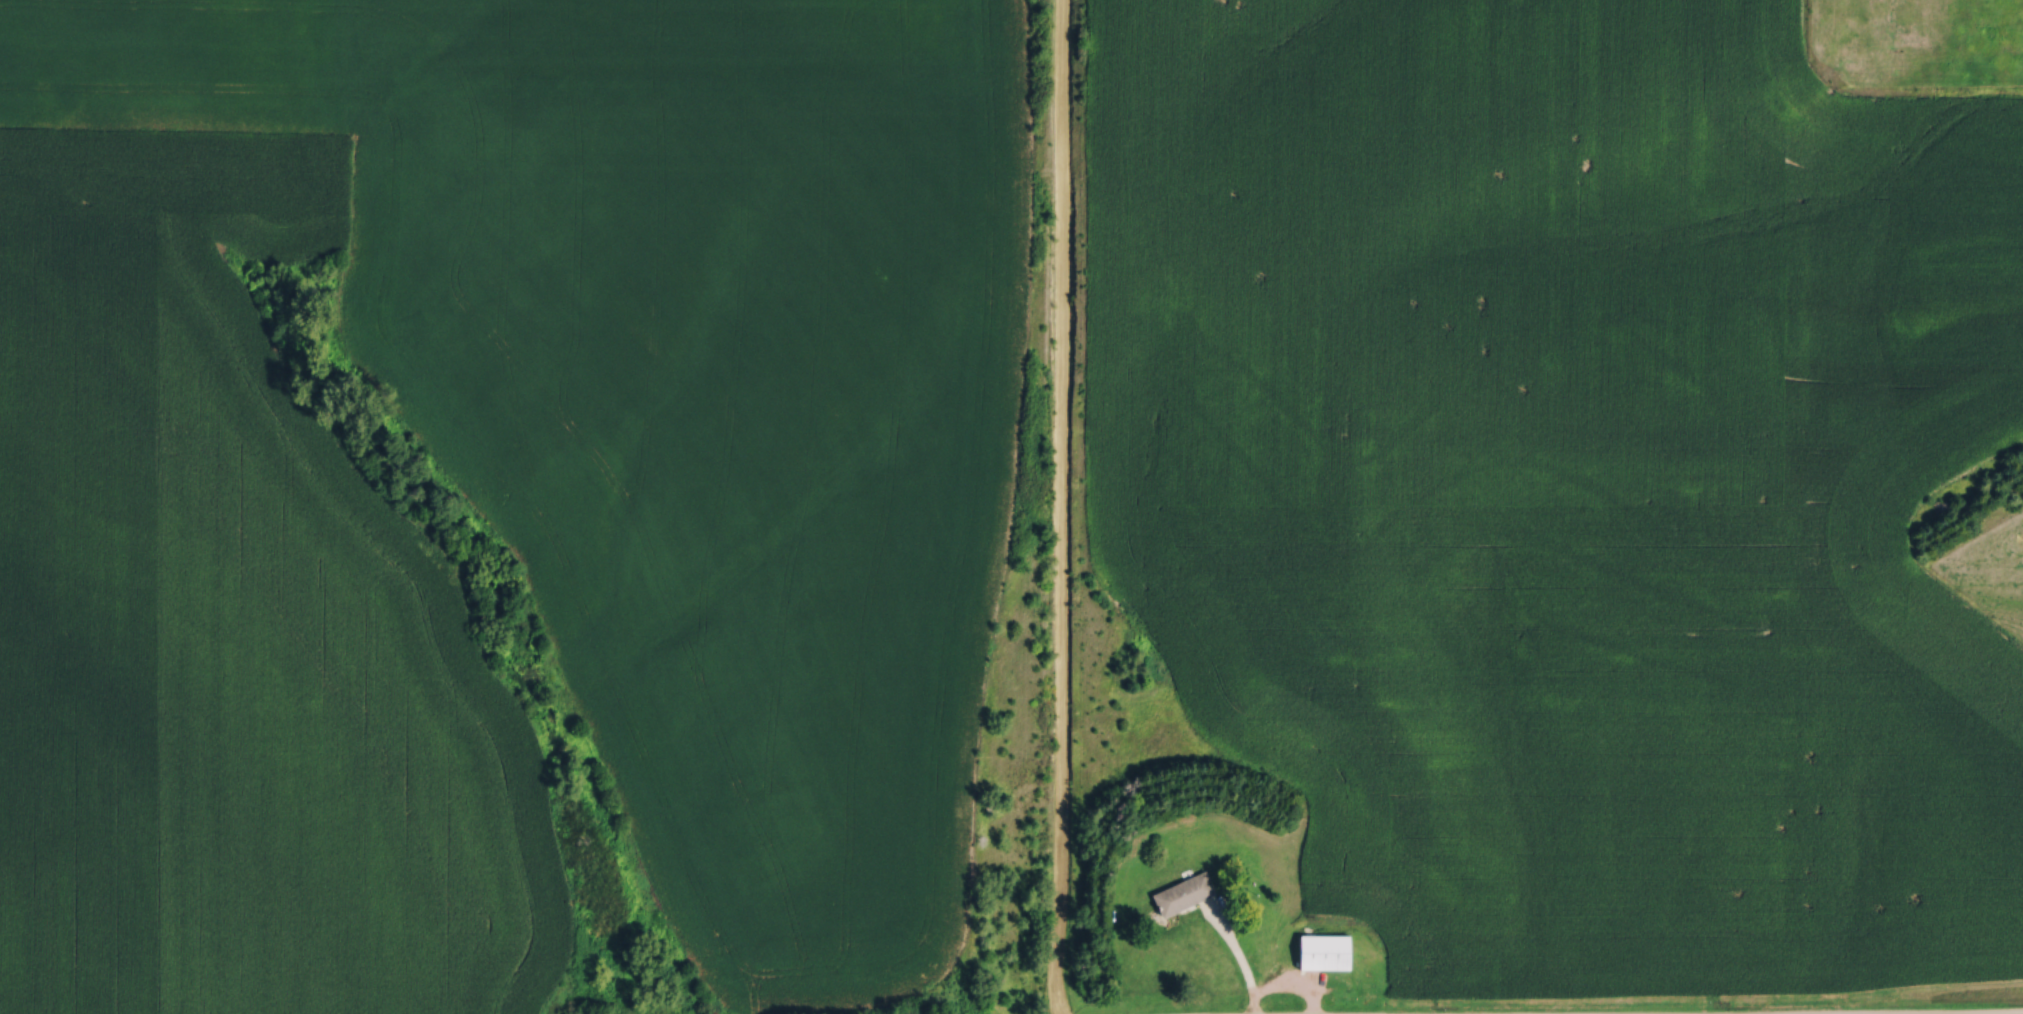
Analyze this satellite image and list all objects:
road: (1060, 507)
building: (1179, 891)
building: (1320, 950)
road: (1238, 958)

